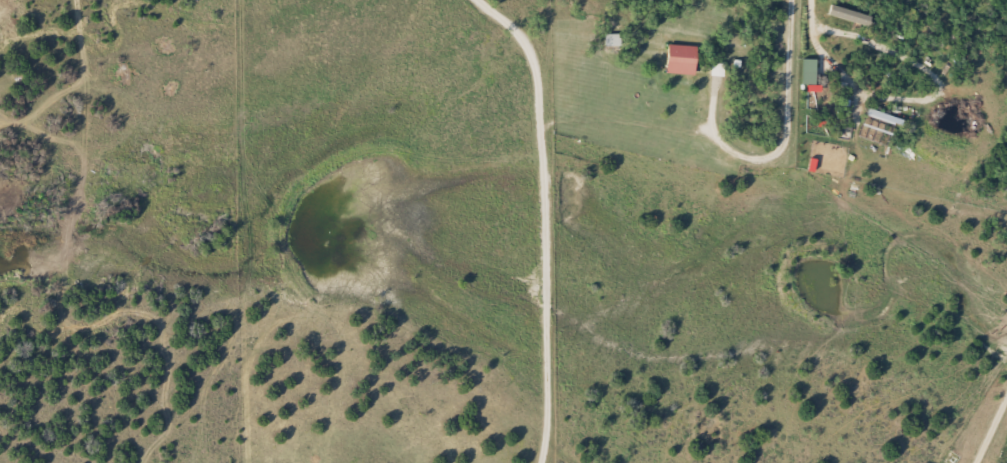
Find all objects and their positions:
building: (611, 40)
building: (680, 59)
road: (985, 420)

